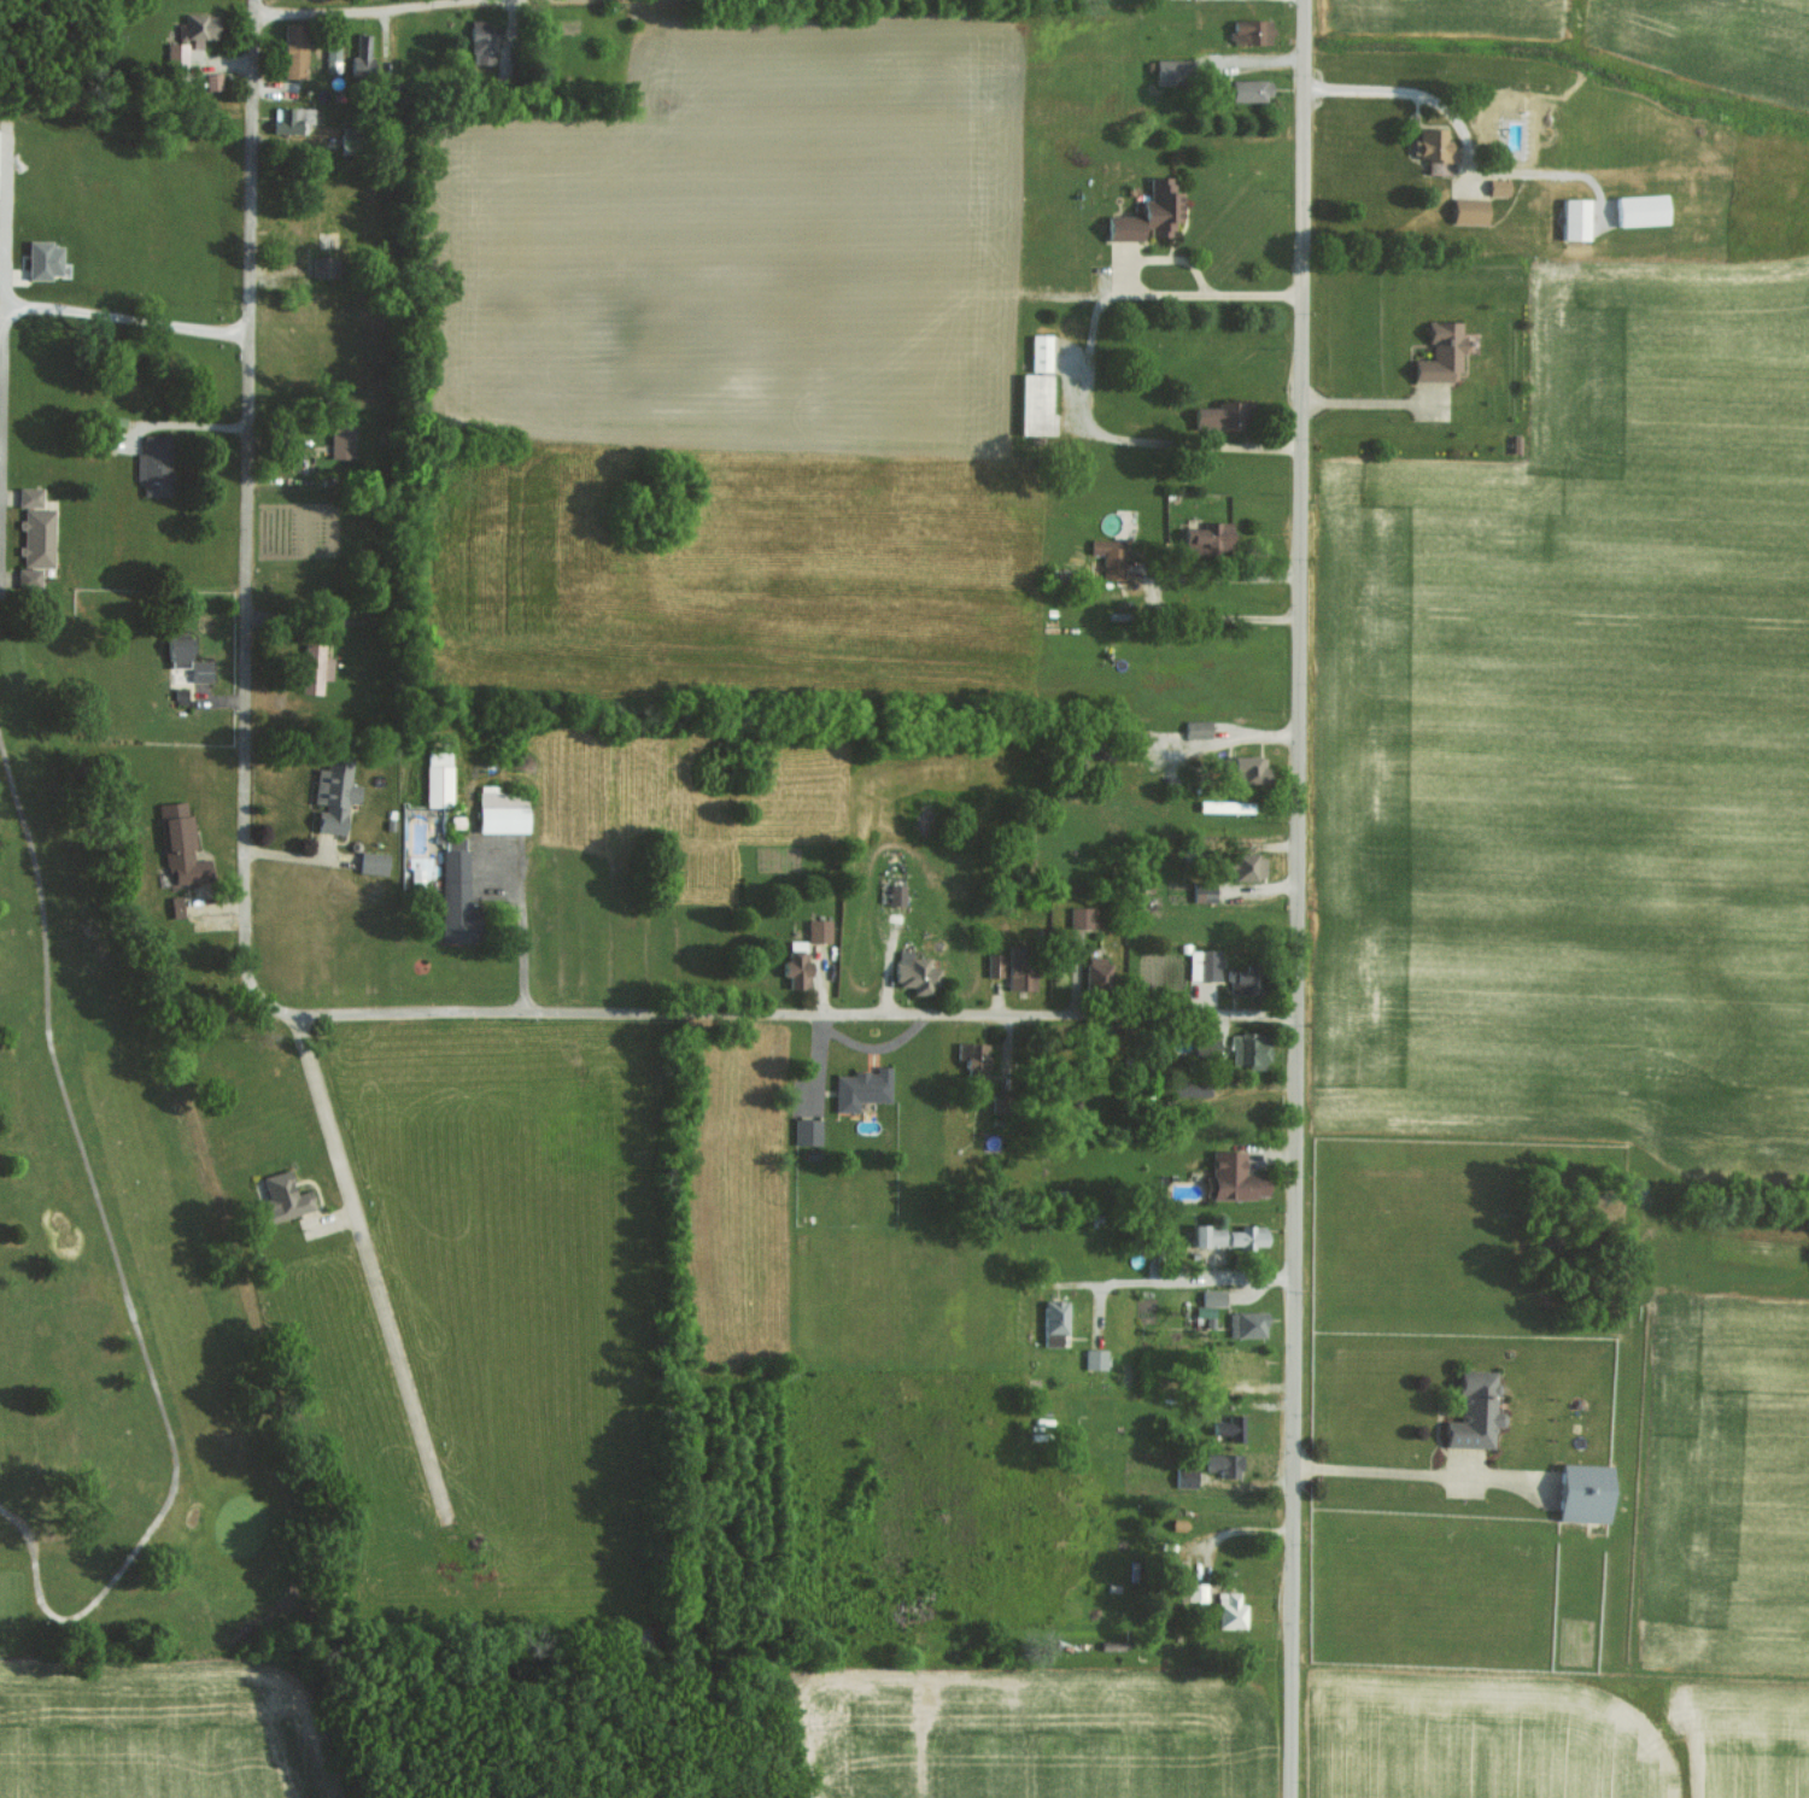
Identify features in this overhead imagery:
road: (367, 11)
building: (199, 27)
building: (1251, 31)
building: (482, 42)
building: (294, 49)
building: (176, 53)
building: (362, 55)
building: (332, 57)
building: (1170, 71)
building: (212, 81)
road: (1392, 87)
building: (1251, 89)
road: (204, 109)
building: (291, 118)
building: (1435, 148)
building: (1498, 186)
building: (1643, 209)
building: (1470, 210)
building: (1149, 213)
building: (1576, 218)
road: (8, 221)
building: (43, 259)
building: (324, 265)
road: (5, 320)
building: (1041, 352)
building: (1441, 352)
road: (1085, 370)
road: (1378, 400)
building: (1036, 405)
building: (1223, 416)
road: (185, 426)
building: (341, 440)
building: (154, 464)
building: (30, 496)
road: (247, 519)
building: (37, 537)
building: (1210, 538)
building: (1111, 556)
building: (29, 578)
road: (1153, 593)
building: (188, 660)
building: (315, 668)
building: (1198, 727)
road: (1227, 739)
building: (1249, 768)
building: (438, 778)
building: (334, 795)
building: (1214, 804)
building: (181, 844)
building: (373, 861)
building: (1248, 865)
building: (1204, 890)
building: (896, 892)
building: (457, 894)
road: (1305, 898)
building: (176, 906)
building: (1082, 915)
building: (818, 930)
building: (797, 964)
building: (994, 964)
building: (1204, 964)
building: (1019, 966)
building: (1097, 971)
building: (915, 972)
building: (1242, 978)
road: (720, 1011)
road: (1259, 1014)
building: (1251, 1048)
building: (974, 1056)
building: (862, 1087)
building: (999, 1101)
building: (807, 1130)
building: (1236, 1176)
building: (283, 1195)
building: (1231, 1235)
road: (370, 1265)
road: (121, 1266)
road: (1188, 1279)
building: (1213, 1296)
building: (1055, 1320)
building: (1247, 1323)
park: (2, 1329)
building: (1095, 1358)
building: (1476, 1410)
building: (1229, 1427)
building: (1224, 1463)
road: (1384, 1471)
building: (1185, 1476)
building: (1586, 1492)
road: (1222, 1534)
building: (1196, 1591)
building: (1230, 1610)
crop: (1741, 1740)

